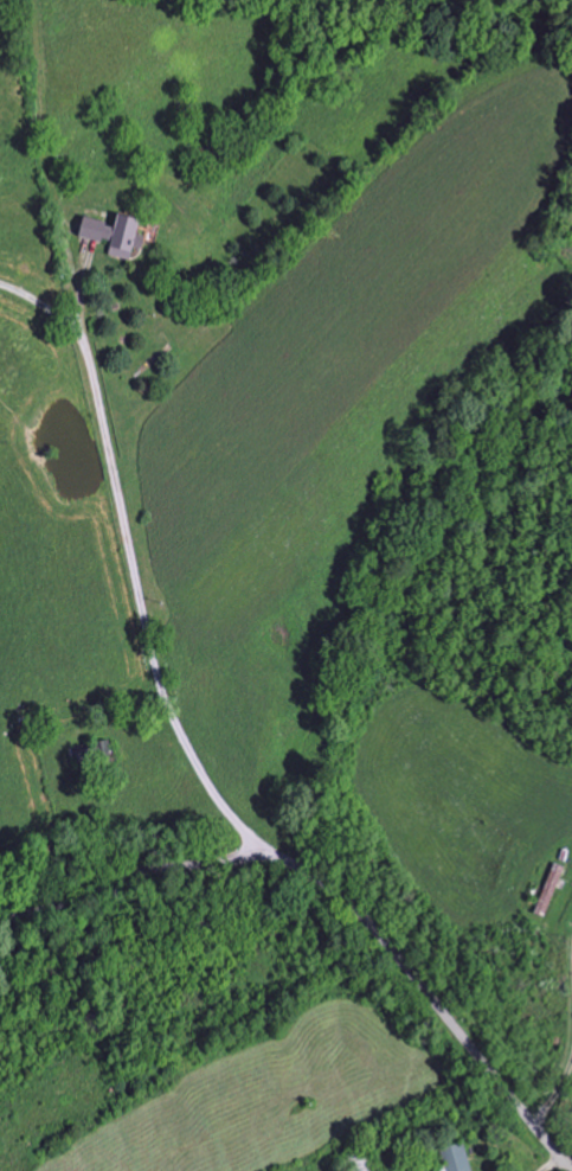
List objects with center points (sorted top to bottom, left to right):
building: (113, 236)
road: (32, 301)
road: (143, 607)
road: (338, 898)
road: (554, 1094)
building: (454, 1158)

